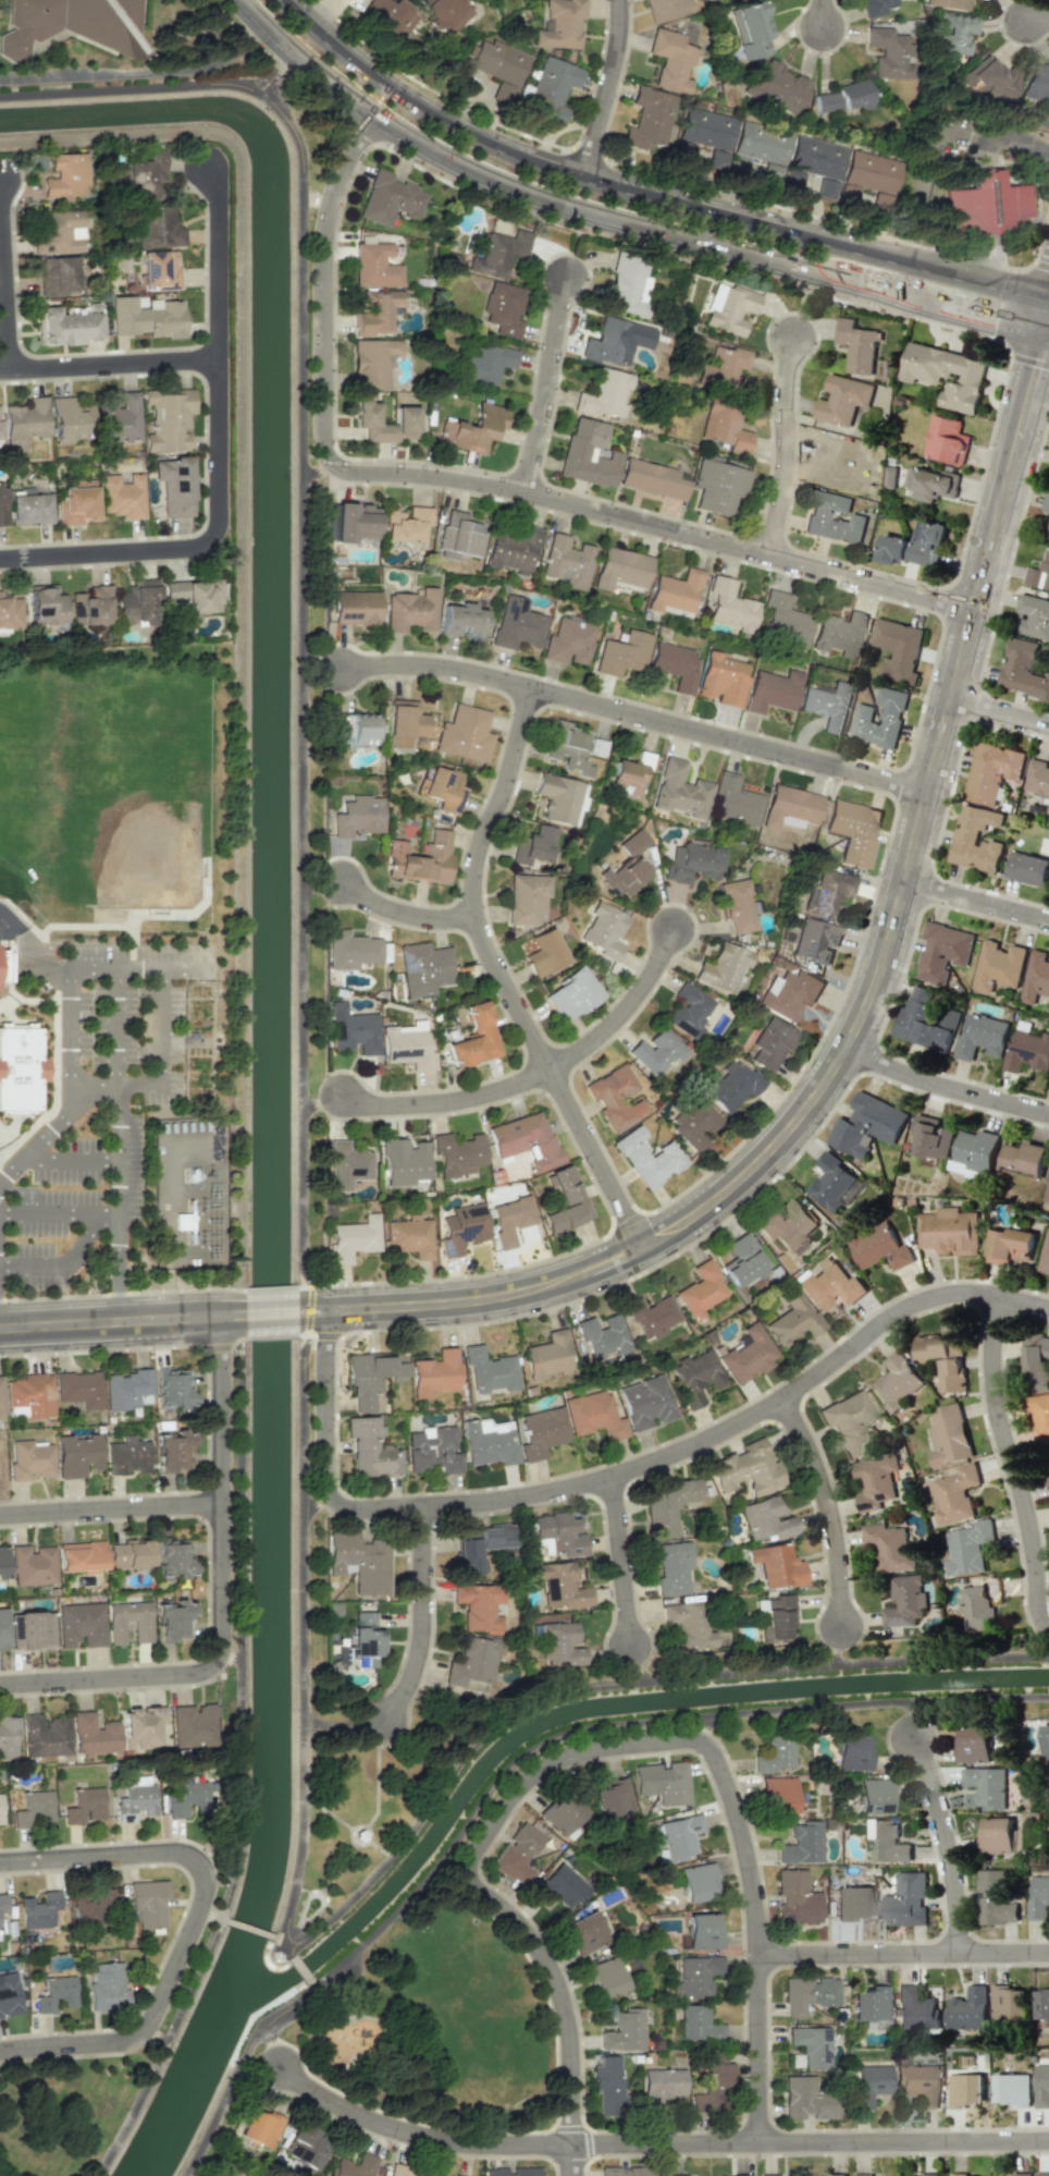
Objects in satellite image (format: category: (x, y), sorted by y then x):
building: (703, 0)
building: (948, 3)
building: (873, 7)
building: (665, 9)
road: (251, 12)
building: (442, 12)
road: (321, 14)
road: (824, 14)
building: (387, 15)
building: (71, 23)
road: (1037, 23)
building: (559, 24)
building: (749, 28)
building: (953, 32)
building: (889, 53)
building: (670, 60)
road: (269, 66)
building: (495, 66)
road: (139, 72)
building: (990, 81)
building: (552, 87)
building: (776, 87)
road: (606, 90)
building: (1038, 93)
building: (842, 97)
building: (647, 119)
building: (704, 138)
road: (934, 139)
building: (757, 146)
building: (815, 157)
building: (871, 172)
building: (65, 175)
building: (145, 175)
building: (825, 187)
road: (642, 197)
road: (546, 198)
building: (391, 199)
building: (988, 204)
building: (159, 225)
building: (60, 233)
building: (499, 253)
road: (1039, 265)
building: (375, 266)
building: (160, 269)
road: (5, 272)
building: (57, 276)
building: (628, 283)
road: (899, 292)
building: (729, 308)
building: (502, 310)
building: (377, 313)
road: (987, 315)
building: (147, 317)
building: (65, 327)
road: (1048, 327)
road: (1048, 331)
building: (616, 341)
building: (855, 345)
road: (1028, 360)
road: (109, 362)
building: (372, 363)
building: (488, 364)
building: (721, 367)
building: (925, 380)
road: (546, 384)
building: (605, 394)
building: (841, 400)
building: (366, 415)
building: (119, 417)
building: (67, 419)
building: (168, 419)
building: (24, 424)
building: (725, 426)
building: (472, 429)
building: (946, 440)
road: (787, 448)
building: (588, 454)
road: (219, 459)
road: (1011, 470)
road: (314, 472)
building: (651, 479)
road: (480, 482)
building: (931, 485)
building: (174, 486)
building: (717, 486)
building: (122, 496)
building: (76, 503)
building: (1046, 503)
building: (1, 504)
building: (28, 506)
building: (818, 517)
building: (349, 521)
building: (406, 524)
building: (1048, 533)
building: (459, 534)
building: (513, 550)
building: (566, 561)
road: (297, 567)
building: (620, 569)
building: (1038, 573)
building: (195, 595)
building: (137, 602)
building: (46, 606)
building: (91, 606)
building: (730, 606)
building: (354, 608)
building: (410, 610)
building: (10, 611)
building: (1033, 616)
building: (785, 619)
building: (462, 621)
building: (517, 624)
building: (837, 632)
building: (568, 641)
building: (897, 649)
building: (622, 653)
road: (320, 660)
building: (674, 665)
building: (1022, 669)
building: (721, 680)
building: (773, 690)
building: (826, 707)
building: (890, 712)
road: (1000, 713)
road: (637, 716)
building: (405, 722)
building: (355, 729)
building: (465, 734)
building: (573, 749)
building: (990, 772)
building: (627, 775)
building: (1037, 777)
building: (442, 790)
building: (679, 790)
building: (560, 798)
building: (736, 800)
building: (791, 807)
building: (358, 816)
building: (853, 831)
building: (975, 839)
building: (533, 845)
building: (421, 859)
building: (693, 863)
building: (627, 866)
building: (1027, 868)
building: (832, 888)
road: (319, 889)
building: (527, 897)
road: (975, 904)
building: (737, 905)
road: (404, 915)
building: (604, 930)
building: (815, 940)
building: (350, 950)
building: (942, 951)
building: (545, 953)
building: (998, 966)
road: (46, 967)
road: (137, 967)
building: (424, 968)
building: (724, 968)
building: (1036, 977)
road: (499, 978)
building: (791, 993)
building: (572, 994)
road: (625, 1011)
building: (689, 1011)
road: (70, 1012)
building: (925, 1022)
road: (161, 1025)
road: (202, 1025)
road: (113, 1027)
building: (351, 1029)
building: (474, 1037)
building: (980, 1037)
building: (769, 1044)
building: (407, 1048)
building: (656, 1051)
building: (1027, 1051)
building: (18, 1068)
road: (70, 1074)
road: (169, 1080)
road: (129, 1085)
building: (730, 1086)
road: (94, 1089)
road: (945, 1089)
building: (615, 1097)
road: (448, 1102)
road: (320, 1103)
building: (694, 1124)
road: (793, 1124)
building: (866, 1125)
building: (930, 1138)
road: (40, 1139)
building: (524, 1140)
road: (120, 1151)
building: (974, 1151)
building: (458, 1154)
building: (647, 1158)
building: (1025, 1159)
road: (70, 1160)
building: (403, 1162)
building: (346, 1165)
building: (830, 1182)
building: (1047, 1193)
power substation: (192, 1194)
building: (566, 1201)
road: (59, 1213)
building: (510, 1220)
building: (789, 1225)
building: (462, 1228)
building: (950, 1231)
road: (614, 1234)
building: (409, 1236)
road: (84, 1239)
building: (353, 1239)
building: (1010, 1246)
building: (880, 1248)
building: (1045, 1256)
building: (742, 1261)
road: (34, 1266)
road: (120, 1270)
building: (829, 1286)
building: (701, 1291)
road: (271, 1317)
building: (652, 1317)
building: (792, 1320)
road: (122, 1324)
road: (300, 1327)
building: (603, 1335)
road: (314, 1337)
road: (229, 1346)
building: (748, 1355)
building: (547, 1356)
building: (945, 1358)
building: (1035, 1362)
building: (490, 1370)
building: (434, 1373)
building: (371, 1377)
building: (694, 1377)
building: (896, 1382)
building: (79, 1389)
building: (172, 1389)
building: (127, 1390)
building: (30, 1394)
building: (1, 1401)
building: (646, 1403)
building: (594, 1415)
building: (1039, 1416)
building: (850, 1422)
building: (541, 1432)
building: (948, 1437)
building: (489, 1442)
building: (371, 1448)
building: (172, 1450)
building: (432, 1450)
building: (77, 1455)
building: (127, 1456)
building: (29, 1459)
road: (1013, 1465)
building: (746, 1469)
road: (618, 1475)
building: (1048, 1478)
building: (875, 1482)
building: (954, 1493)
road: (317, 1501)
building: (669, 1504)
road: (109, 1507)
road: (829, 1509)
building: (766, 1519)
building: (558, 1533)
building: (479, 1544)
building: (889, 1545)
building: (967, 1547)
building: (129, 1554)
building: (81, 1556)
building: (173, 1557)
building: (3, 1560)
building: (359, 1562)
road: (624, 1562)
building: (33, 1565)
building: (776, 1565)
building: (671, 1566)
building: (561, 1586)
road: (220, 1600)
building: (908, 1600)
building: (980, 1602)
building: (479, 1606)
building: (776, 1618)
building: (173, 1621)
road: (424, 1621)
building: (79, 1625)
building: (689, 1625)
building: (2, 1629)
building: (32, 1630)
building: (141, 1631)
road: (301, 1640)
building: (365, 1641)
building: (559, 1645)
road: (836, 1647)
road: (231, 1655)
building: (472, 1662)
road: (638, 1664)
road: (614, 1683)
road: (911, 1716)
building: (193, 1725)
building: (143, 1726)
road: (703, 1729)
road: (595, 1731)
building: (92, 1734)
building: (8, 1736)
building: (45, 1736)
building: (1045, 1741)
building: (974, 1745)
building: (851, 1752)
building: (776, 1757)
road: (240, 1776)
building: (665, 1782)
building: (986, 1786)
road: (729, 1788)
building: (778, 1794)
building: (873, 1796)
road: (377, 1797)
building: (190, 1798)
building: (612, 1799)
building: (136, 1804)
building: (84, 1806)
building: (30, 1809)
building: (0, 1811)
road: (326, 1811)
building: (561, 1813)
road: (349, 1826)
building: (996, 1836)
building: (678, 1837)
road: (945, 1839)
building: (885, 1841)
building: (801, 1844)
building: (517, 1855)
road: (343, 1860)
building: (698, 1883)
building: (560, 1887)
building: (795, 1898)
building: (1038, 1898)
building: (905, 1900)
building: (2, 1903)
building: (147, 1903)
building: (852, 1903)
building: (91, 1906)
building: (38, 1911)
road: (208, 1914)
road: (190, 1922)
road: (249, 1929)
building: (702, 1931)
building: (587, 1932)
road: (287, 1946)
road: (904, 1954)
road: (300, 1970)
building: (696, 1977)
building: (606, 1978)
road: (314, 1986)
building: (106, 1988)
building: (54, 1993)
building: (8, 1995)
building: (810, 1995)
building: (1007, 2002)
building: (869, 2004)
building: (1041, 2004)
building: (916, 2009)
building: (966, 2009)
road: (568, 2014)
building: (698, 2024)
park: (443, 2026)
building: (625, 2031)
road: (155, 2034)
road: (272, 2047)
building: (810, 2047)
building: (664, 2083)
building: (869, 2083)
building: (917, 2083)
building: (608, 2085)
building: (1040, 2086)
building: (713, 2087)
building: (964, 2089)
building: (1011, 2089)
building: (806, 2099)
road: (222, 2100)
park: (65, 2112)
building: (259, 2128)
road: (655, 2144)
building: (305, 2148)
building: (355, 2166)
building: (511, 2172)
building: (619, 2172)
building: (404, 2173)
building: (835, 2174)
building: (862, 2174)
building: (928, 2174)
building: (1020, 2174)
building: (1041, 2174)
building: (221, 2175)
building: (455, 2175)
building: (678, 2175)
building: (769, 2175)

